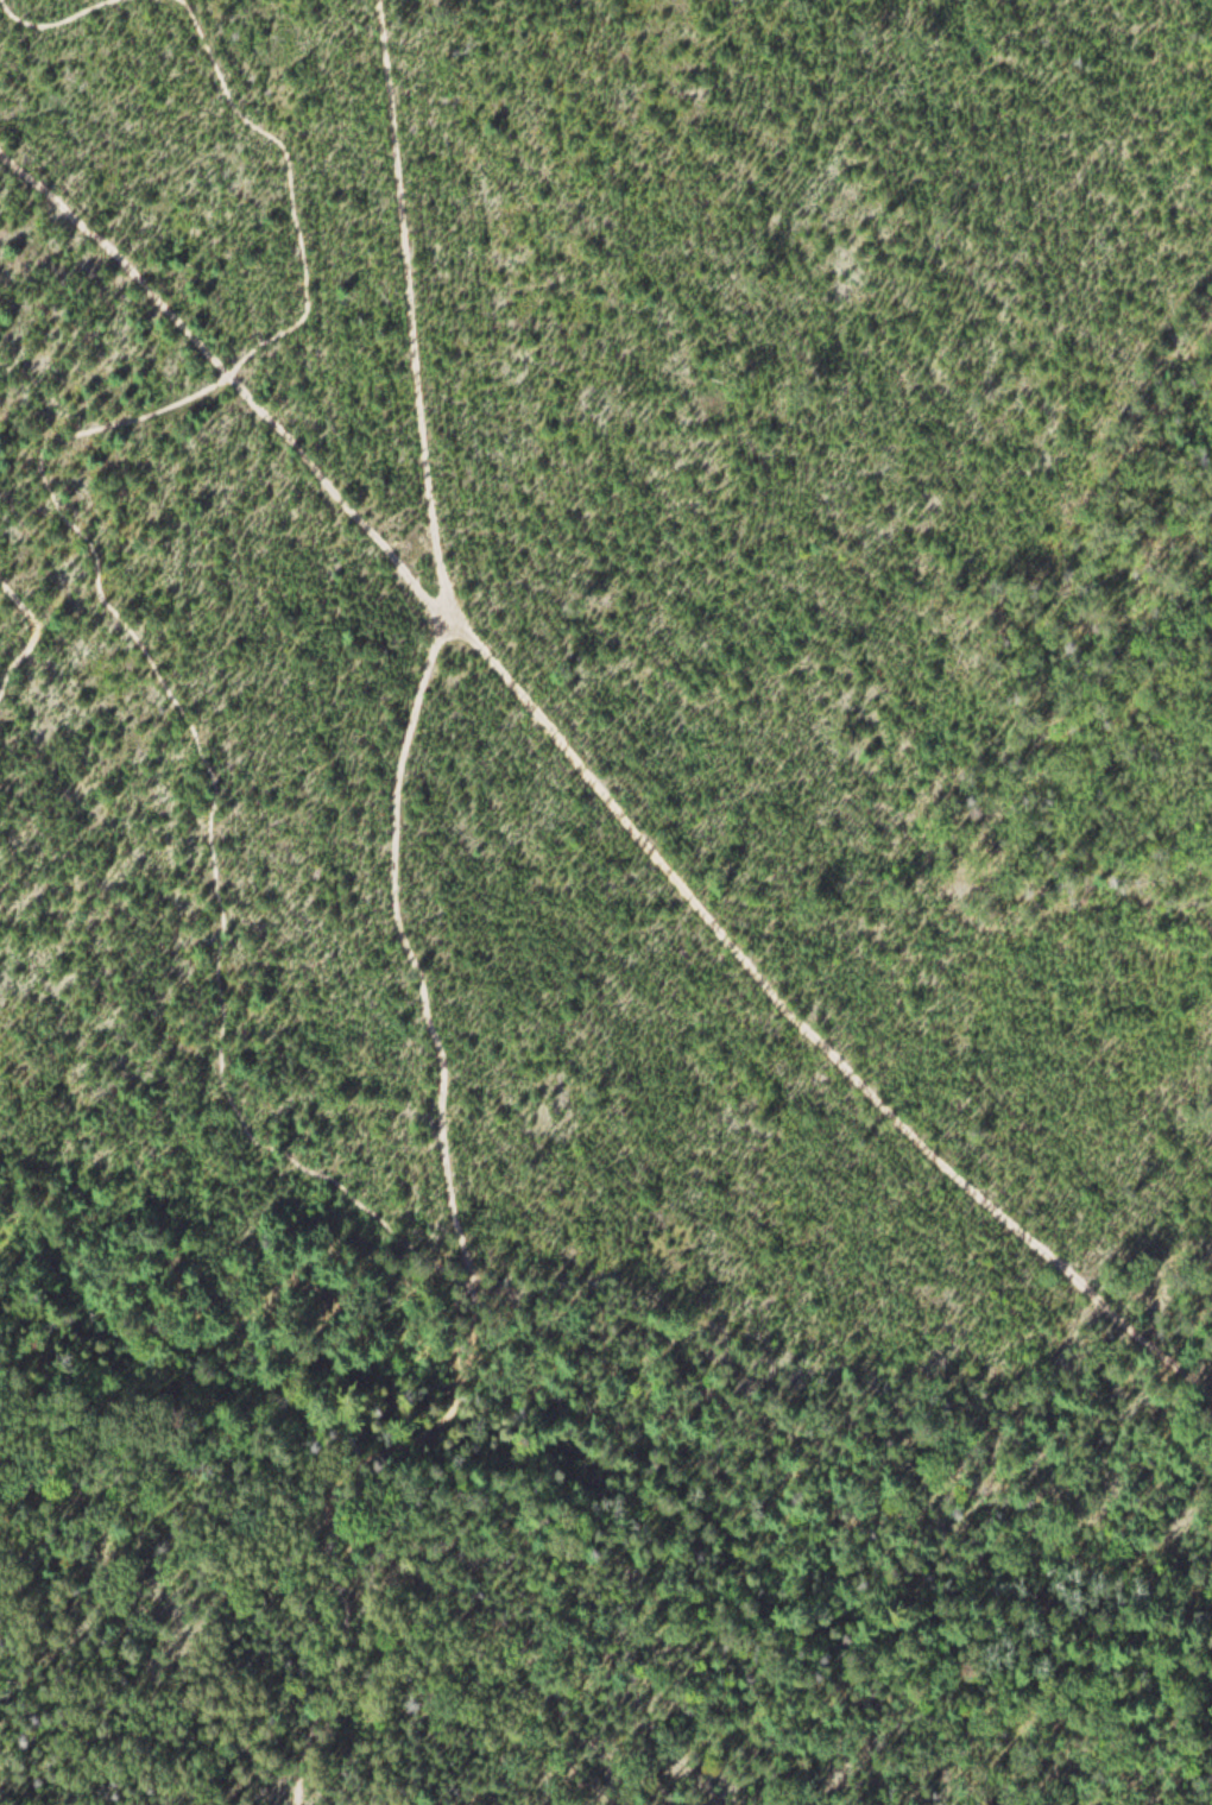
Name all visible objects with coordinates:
road: (52, 19)
road: (101, 608)
road: (46, 630)
road: (431, 651)
road: (595, 787)
road: (428, 1434)
road: (503, 1661)
road: (334, 1673)

